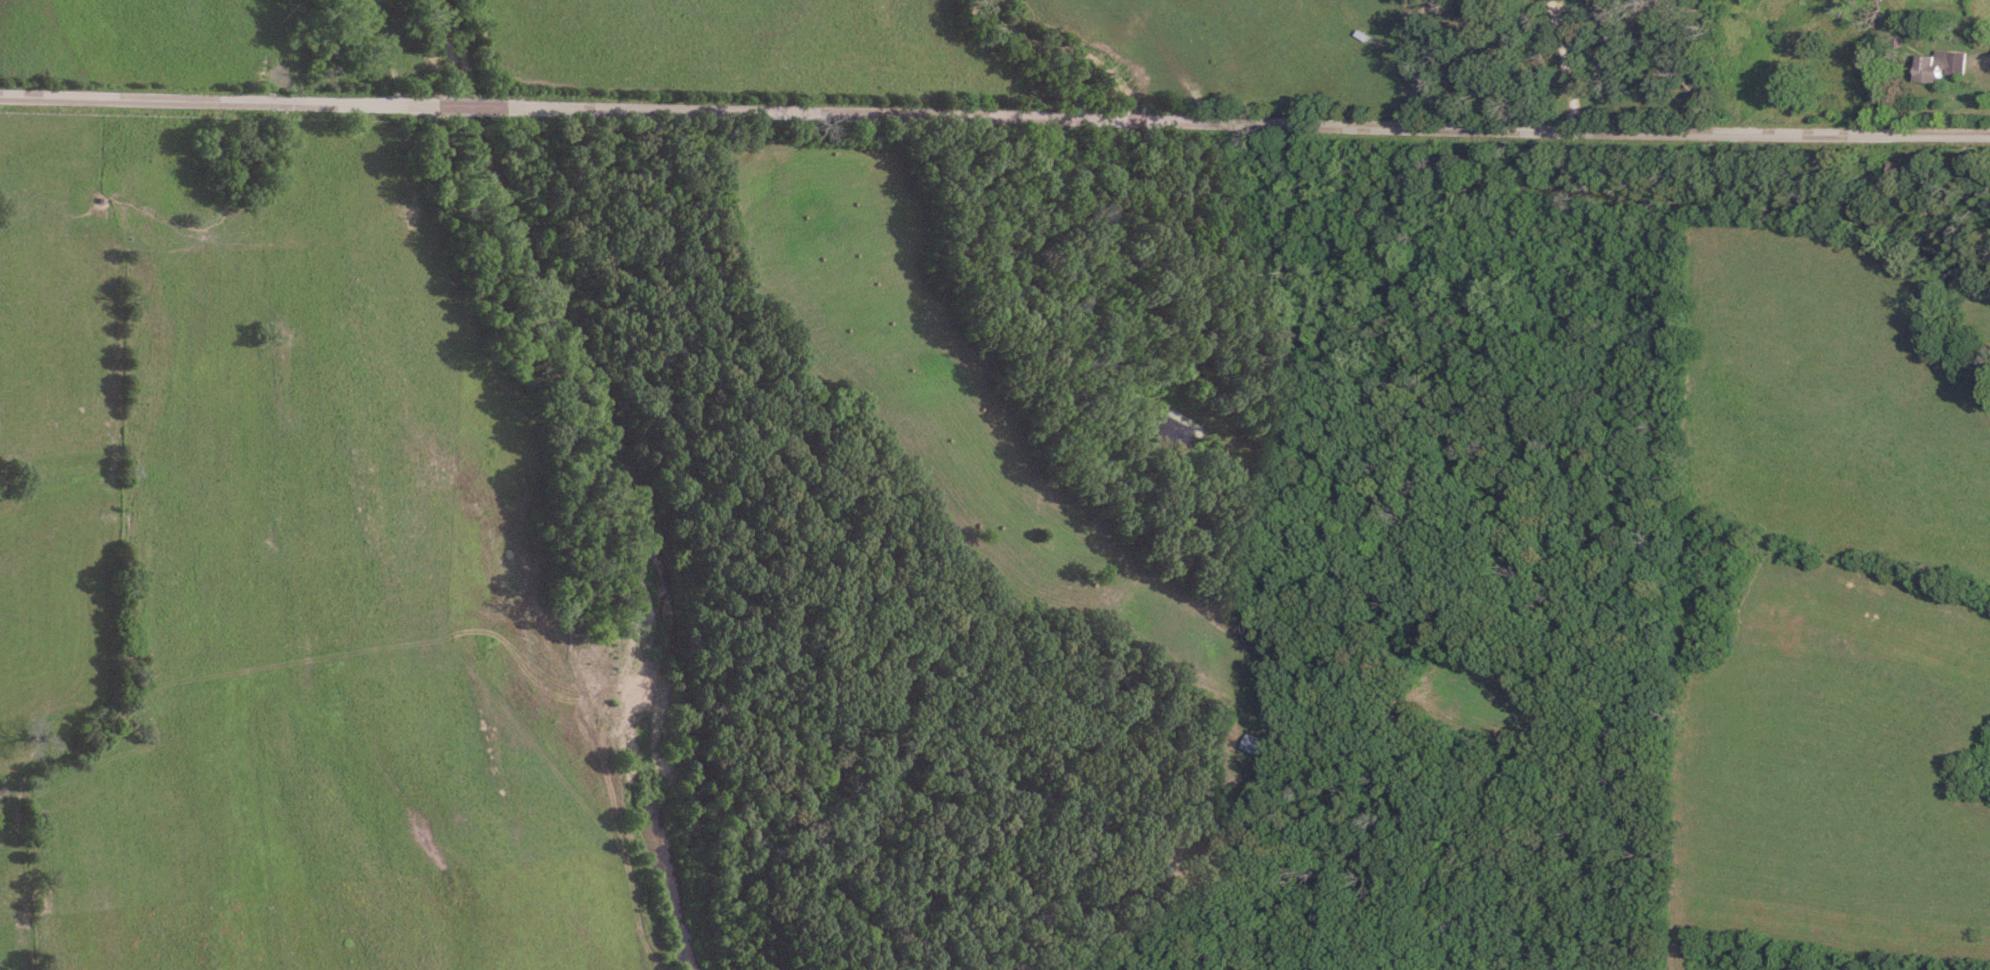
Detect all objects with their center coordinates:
road: (1565, 64)
building: (1929, 67)
road: (995, 115)
building: (1252, 743)

